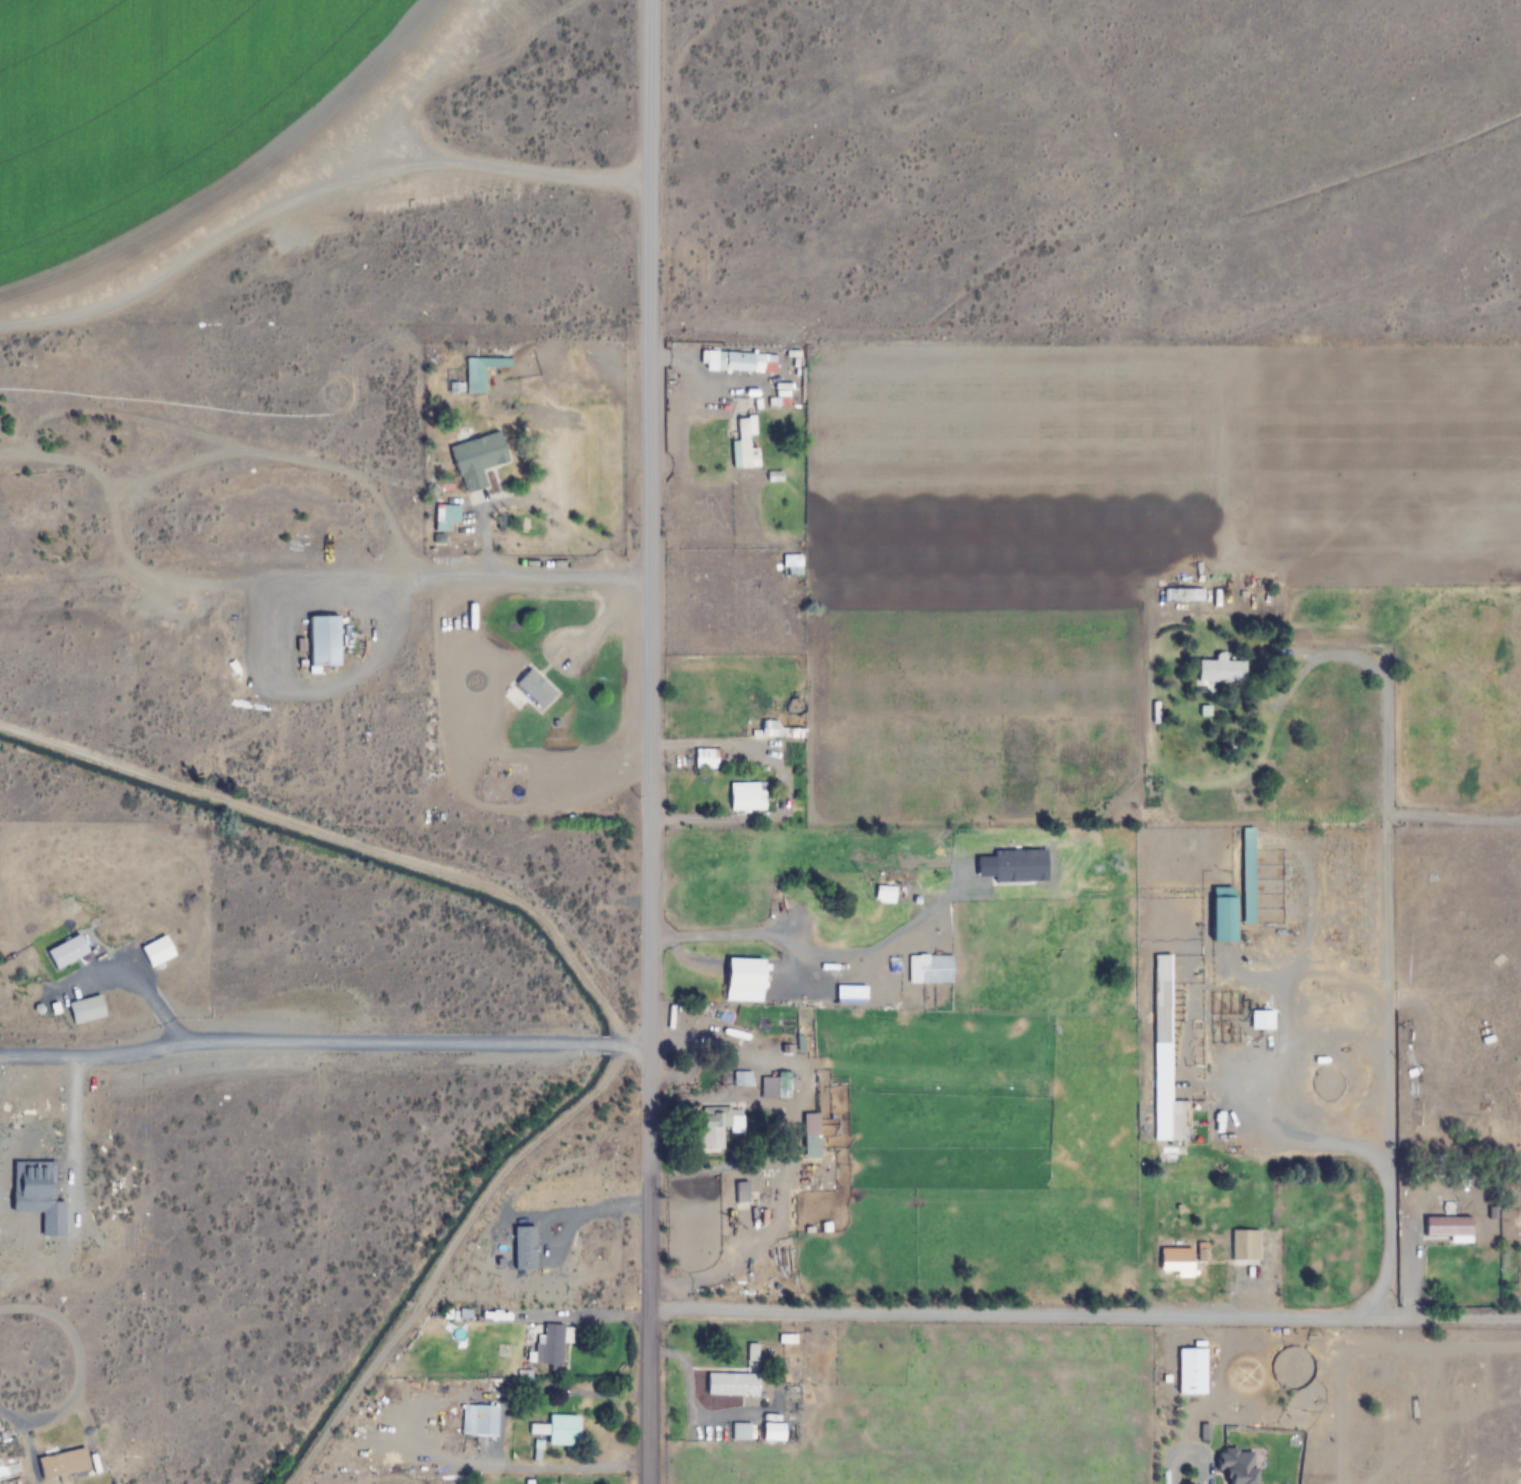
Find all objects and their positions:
building: (738, 362)
building: (480, 372)
building: (746, 444)
building: (474, 459)
building: (445, 516)
building: (791, 564)
building: (1184, 594)
building: (312, 638)
road: (648, 656)
building: (1221, 668)
building: (535, 688)
crop: (1137, 741)
building: (705, 758)
building: (747, 796)
road: (1382, 820)
building: (1246, 875)
building: (1219, 913)
building: (843, 927)
building: (156, 951)
building: (66, 952)
building: (930, 969)
building: (741, 980)
building: (87, 1010)
building: (1261, 1020)
building: (729, 1030)
building: (1167, 1058)
building: (741, 1079)
building: (775, 1088)
building: (809, 1125)
building: (717, 1126)
road: (1382, 1163)
building: (1182, 1172)
building: (743, 1192)
building: (1447, 1229)
building: (1246, 1245)
building: (1176, 1263)
road: (1086, 1313)
building: (464, 1314)
building: (788, 1339)
building: (550, 1346)
building: (753, 1353)
building: (1191, 1371)
building: (730, 1380)
road: (652, 1398)
building: (478, 1420)
building: (558, 1430)
building: (742, 1431)
building: (63, 1462)
building: (1237, 1470)

